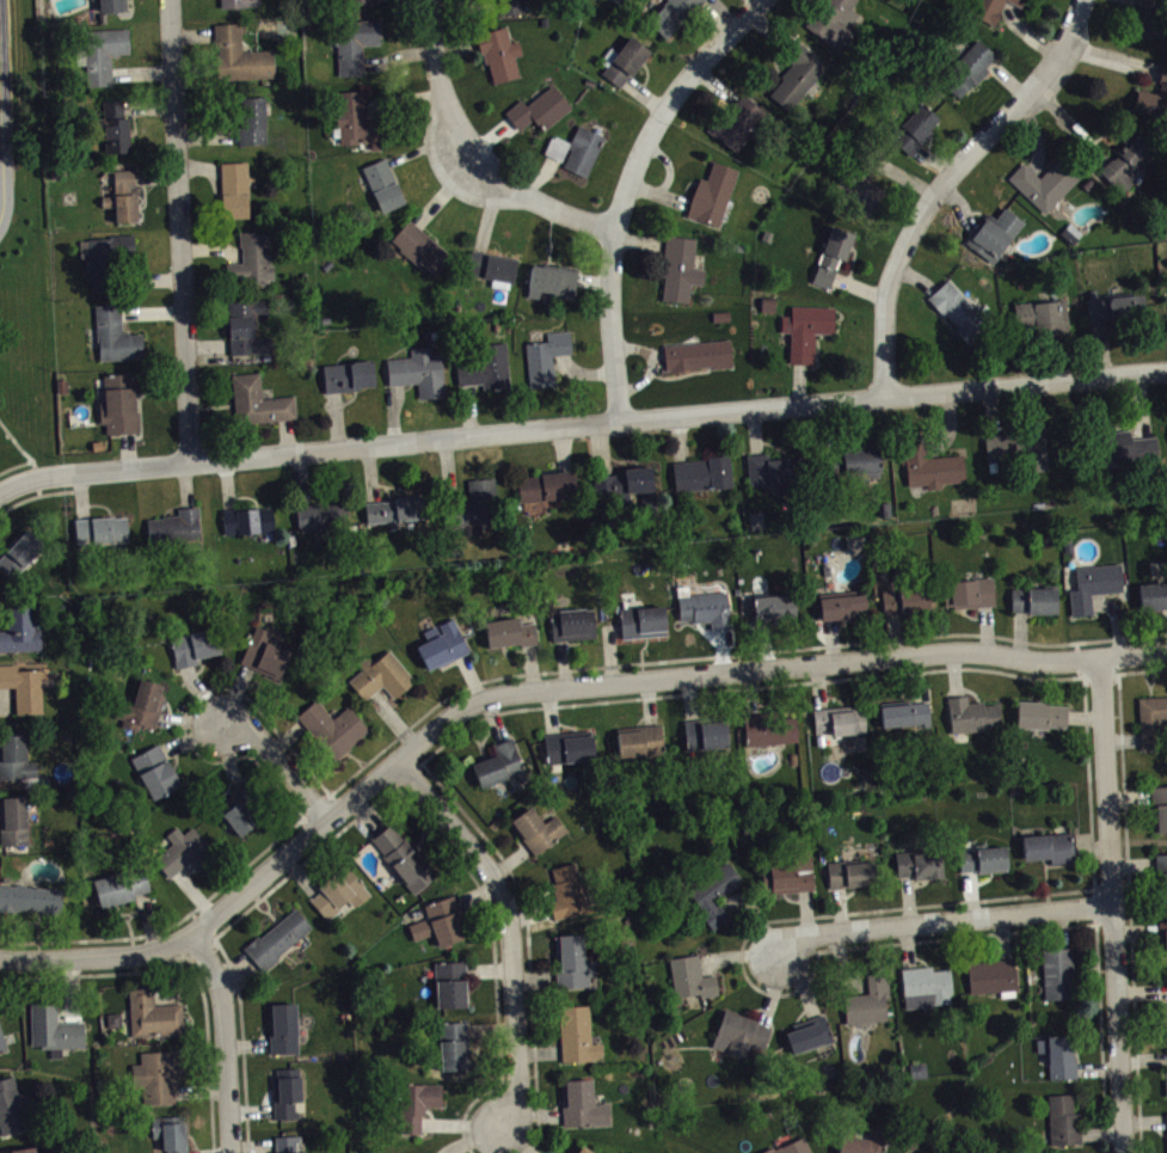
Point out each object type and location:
road: (757, 0)
building: (358, 1)
building: (234, 2)
building: (1019, 2)
building: (109, 4)
building: (509, 6)
building: (985, 8)
building: (671, 14)
building: (1150, 19)
building: (831, 22)
building: (354, 43)
building: (498, 53)
building: (99, 54)
building: (238, 55)
building: (622, 60)
building: (968, 67)
building: (794, 73)
road: (5, 80)
parking lot: (5, 93)
building: (1153, 98)
building: (538, 109)
building: (355, 119)
building: (251, 122)
building: (736, 122)
building: (112, 127)
building: (914, 129)
building: (576, 149)
building: (1124, 161)
road: (460, 165)
building: (856, 180)
building: (1045, 182)
building: (382, 185)
road: (946, 185)
building: (233, 189)
road: (629, 192)
building: (711, 194)
building: (122, 195)
road: (180, 232)
building: (993, 233)
building: (1069, 233)
building: (419, 247)
building: (831, 254)
building: (105, 257)
building: (251, 258)
building: (491, 268)
building: (678, 268)
building: (551, 280)
building: (1114, 308)
building: (958, 311)
building: (1040, 317)
building: (246, 326)
building: (805, 330)
building: (115, 335)
building: (695, 355)
building: (545, 357)
building: (486, 367)
building: (417, 372)
building: (346, 375)
building: (257, 400)
building: (118, 404)
road: (582, 428)
building: (1131, 447)
building: (1016, 448)
road: (24, 450)
building: (854, 460)
road: (16, 465)
building: (930, 467)
building: (775, 468)
building: (701, 473)
building: (546, 485)
building: (626, 486)
road: (43, 493)
building: (473, 505)
building: (393, 509)
building: (323, 517)
building: (246, 520)
building: (176, 528)
building: (100, 529)
building: (19, 552)
building: (1093, 585)
building: (971, 591)
building: (1153, 595)
building: (904, 597)
building: (1033, 599)
building: (841, 603)
building: (772, 607)
building: (704, 608)
building: (641, 621)
building: (571, 624)
building: (19, 630)
building: (508, 631)
building: (441, 644)
building: (194, 645)
building: (263, 655)
building: (380, 675)
building: (22, 687)
road: (539, 694)
building: (140, 705)
building: (902, 712)
building: (970, 715)
building: (1039, 715)
building: (837, 720)
building: (1153, 722)
building: (331, 728)
building: (769, 729)
road: (1086, 730)
building: (704, 732)
building: (638, 740)
building: (567, 746)
road: (385, 747)
building: (14, 758)
building: (497, 763)
road: (281, 767)
building: (154, 771)
road: (381, 797)
building: (1159, 808)
building: (239, 811)
building: (12, 820)
building: (535, 829)
building: (1048, 847)
building: (184, 851)
building: (403, 858)
building: (981, 858)
building: (919, 863)
building: (1162, 871)
building: (849, 872)
building: (788, 873)
building: (119, 885)
building: (711, 888)
road: (1128, 889)
building: (338, 891)
building: (566, 891)
building: (29, 897)
road: (1111, 906)
building: (438, 921)
road: (940, 924)
road: (510, 934)
building: (275, 938)
building: (1162, 940)
road: (189, 961)
building: (571, 961)
building: (1057, 973)
building: (991, 976)
building: (689, 977)
building: (449, 983)
building: (925, 986)
building: (867, 1000)
building: (152, 1014)
building: (1163, 1016)
building: (282, 1028)
building: (53, 1029)
building: (576, 1034)
building: (806, 1034)
building: (739, 1035)
building: (1, 1042)
road: (226, 1044)
building: (453, 1044)
building: (1057, 1055)
building: (158, 1073)
building: (921, 1078)
building: (1166, 1086)
building: (284, 1092)
building: (416, 1103)
building: (581, 1103)
building: (13, 1106)
building: (1062, 1120)
building: (1166, 1124)
building: (170, 1133)
building: (862, 1142)
building: (285, 1143)
building: (788, 1147)
building: (23, 1149)
building: (582, 1149)
building: (561, 1152)

